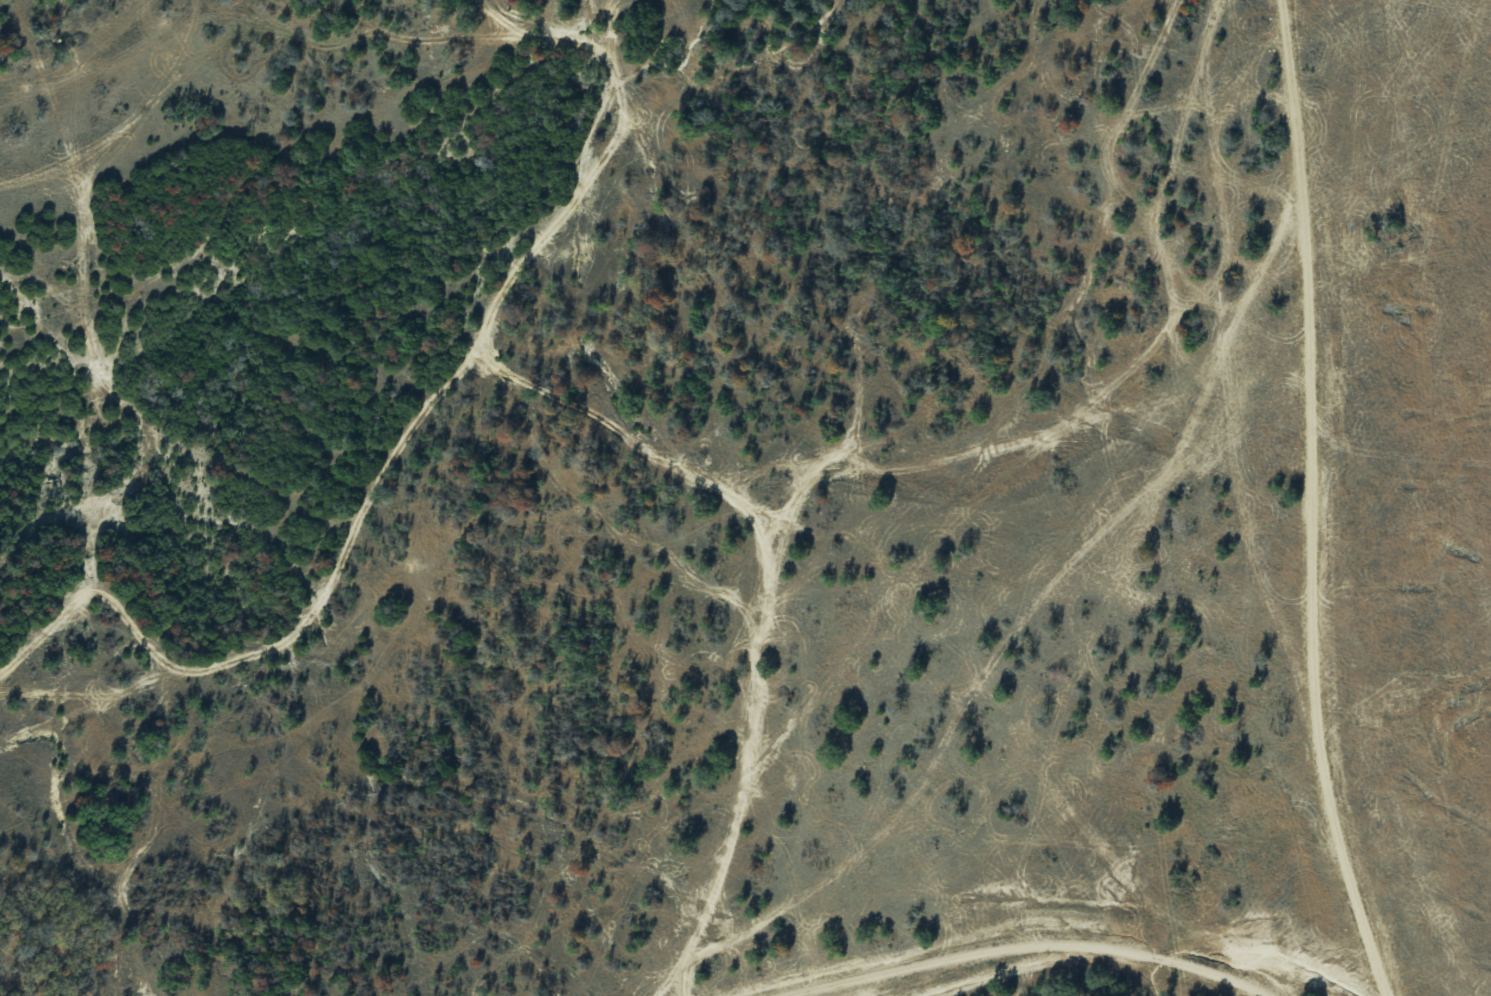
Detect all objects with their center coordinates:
road: (160, 422)
road: (1019, 938)

